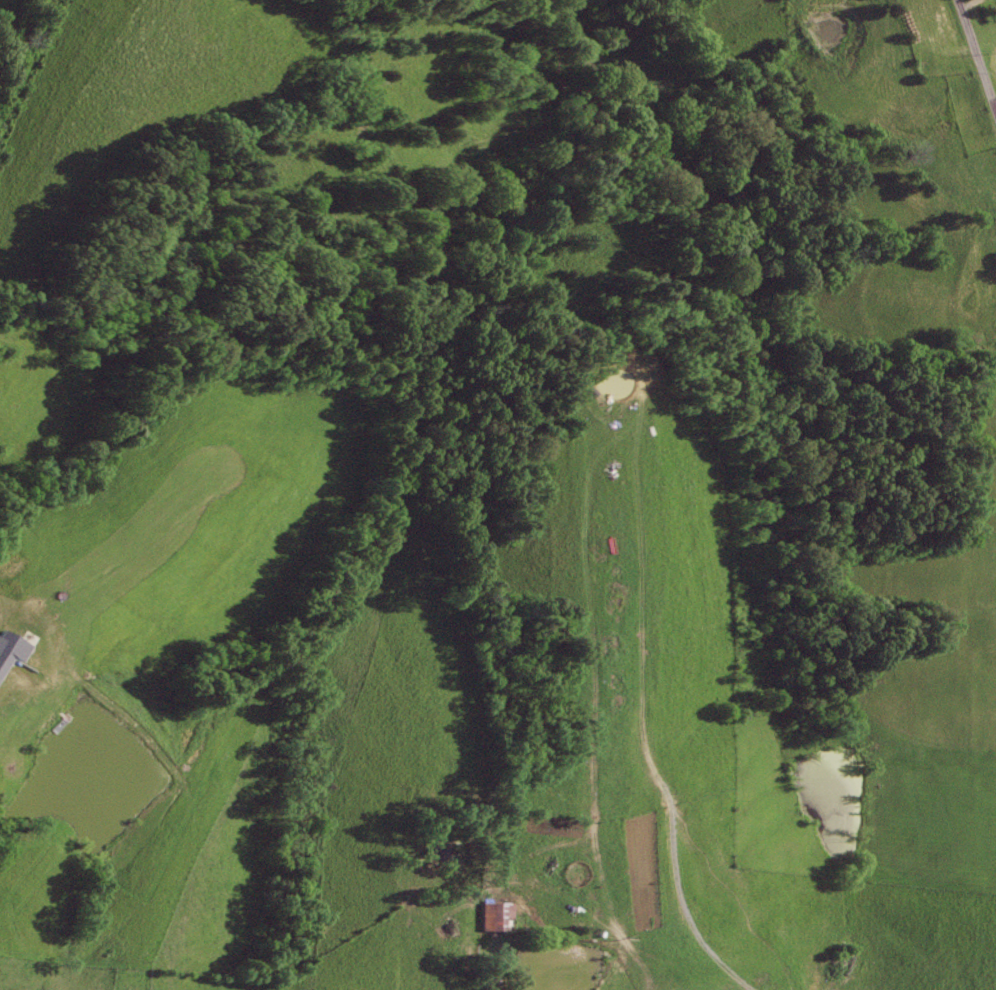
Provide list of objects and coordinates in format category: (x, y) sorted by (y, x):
road: (976, 57)
building: (10, 649)
building: (500, 917)

